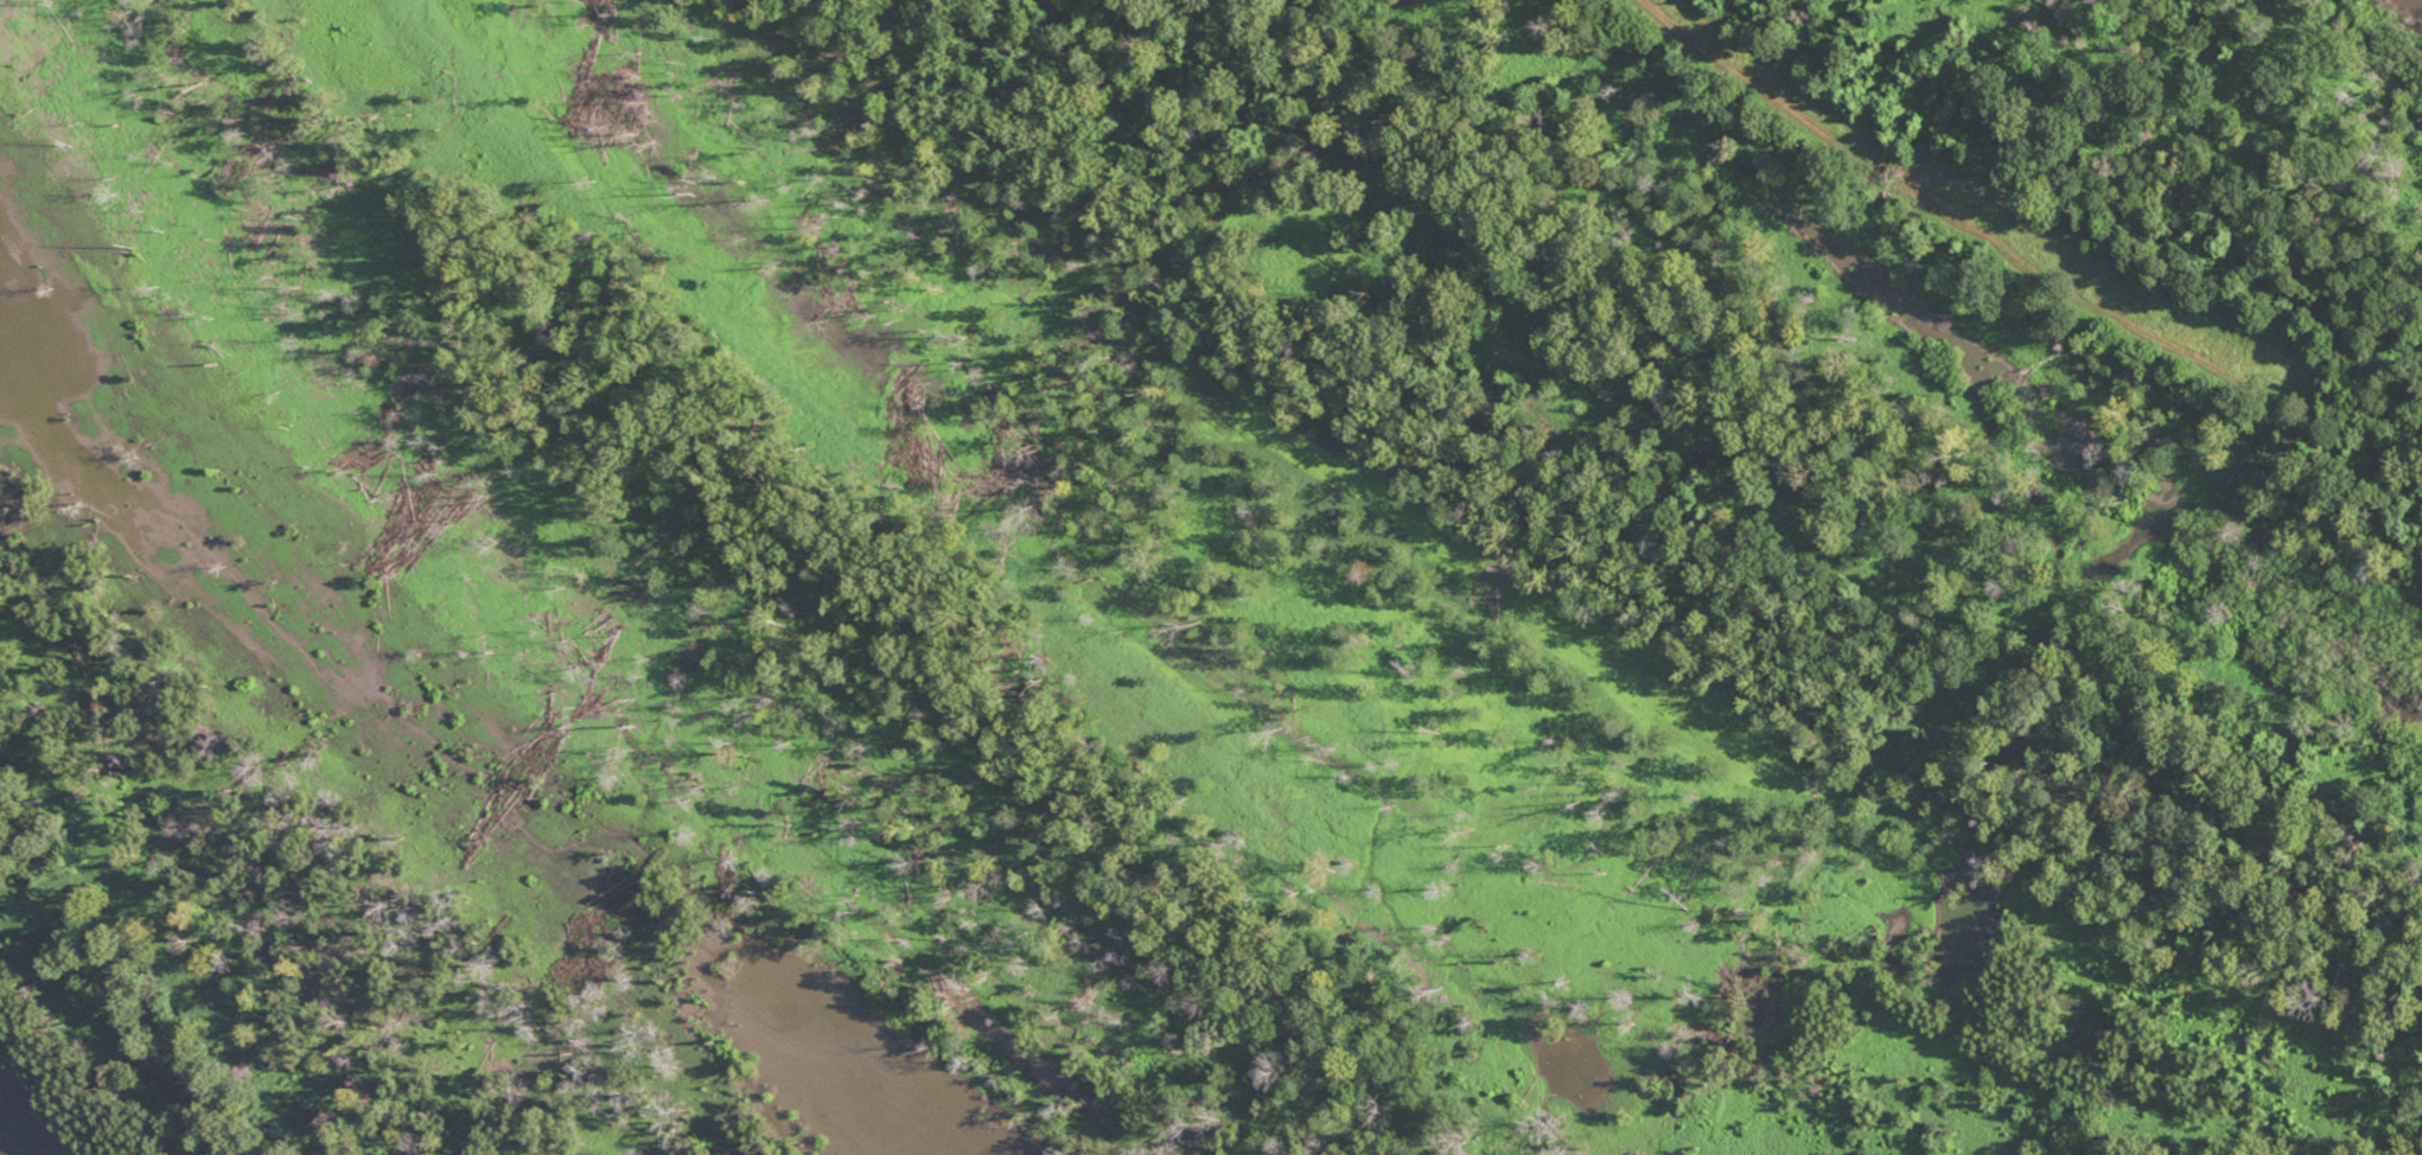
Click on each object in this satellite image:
road: (1994, 273)
road: (2059, 579)
road: (1408, 1143)

